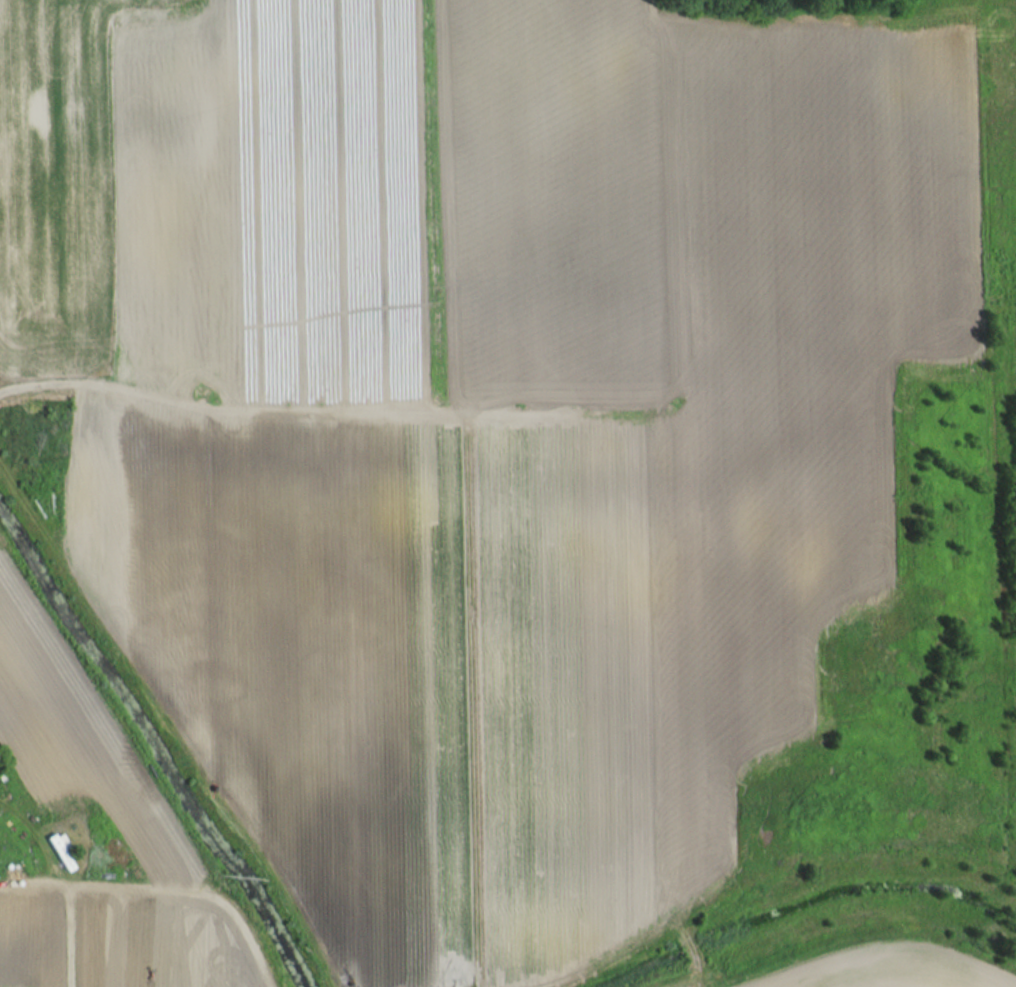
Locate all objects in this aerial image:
crop: (483, 416)
crop: (92, 843)
building: (61, 851)
road: (64, 907)
crop: (883, 968)

